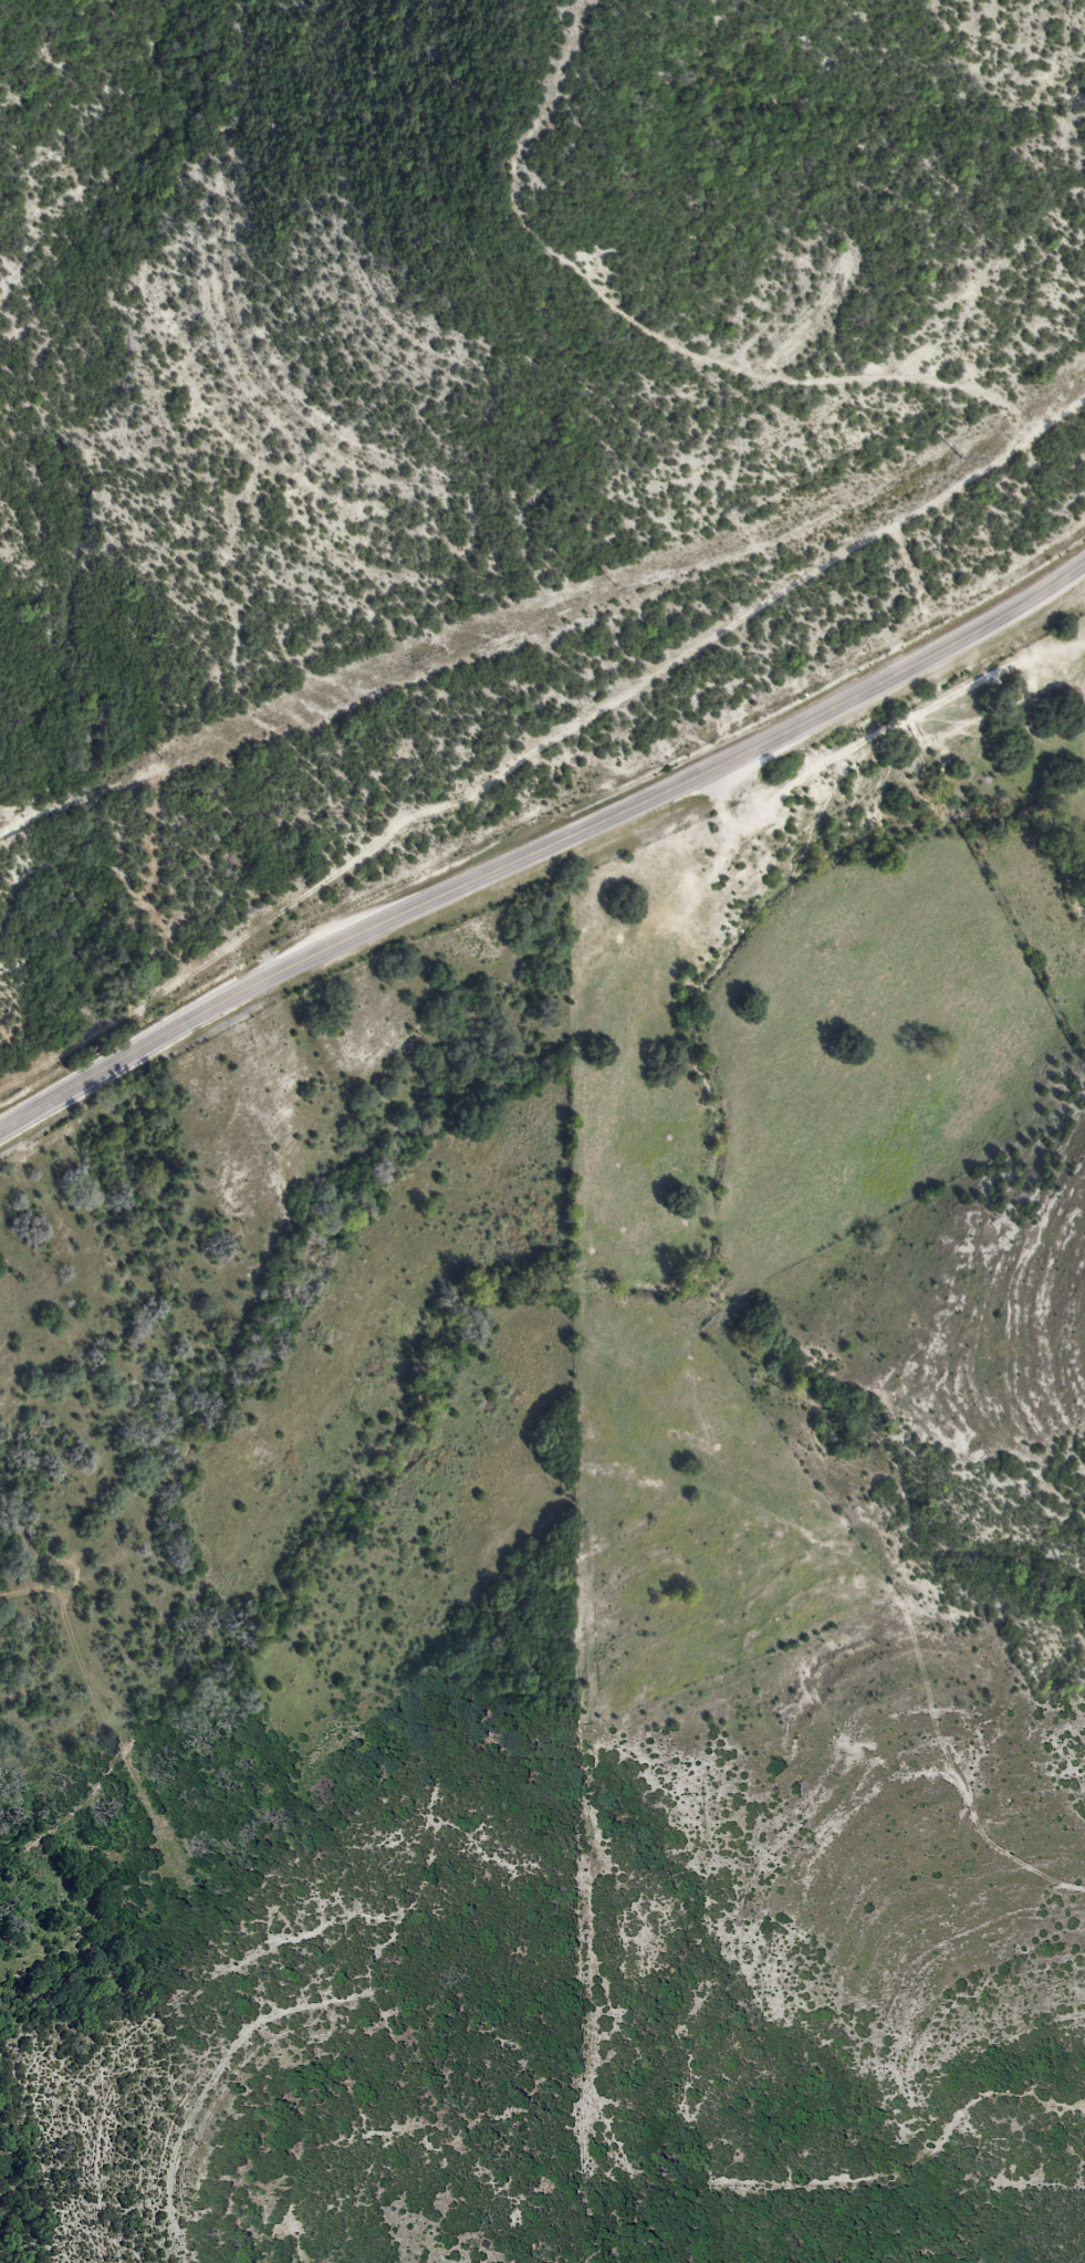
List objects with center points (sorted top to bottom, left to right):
power tower: (964, 459)
power tower: (619, 587)
power tower: (164, 760)
road: (542, 853)

